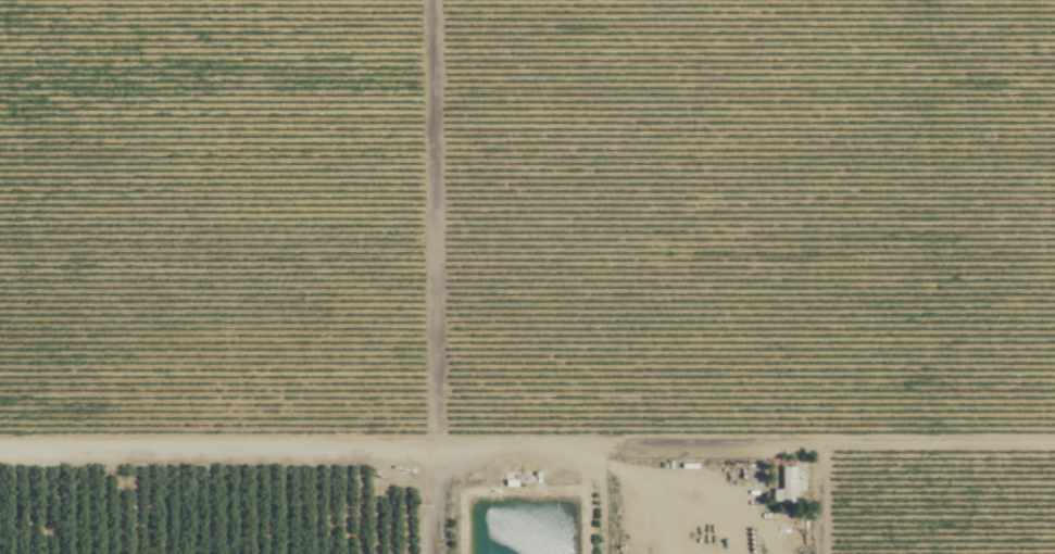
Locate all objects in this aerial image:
crop: (527, 277)
road: (332, 443)
building: (791, 484)

